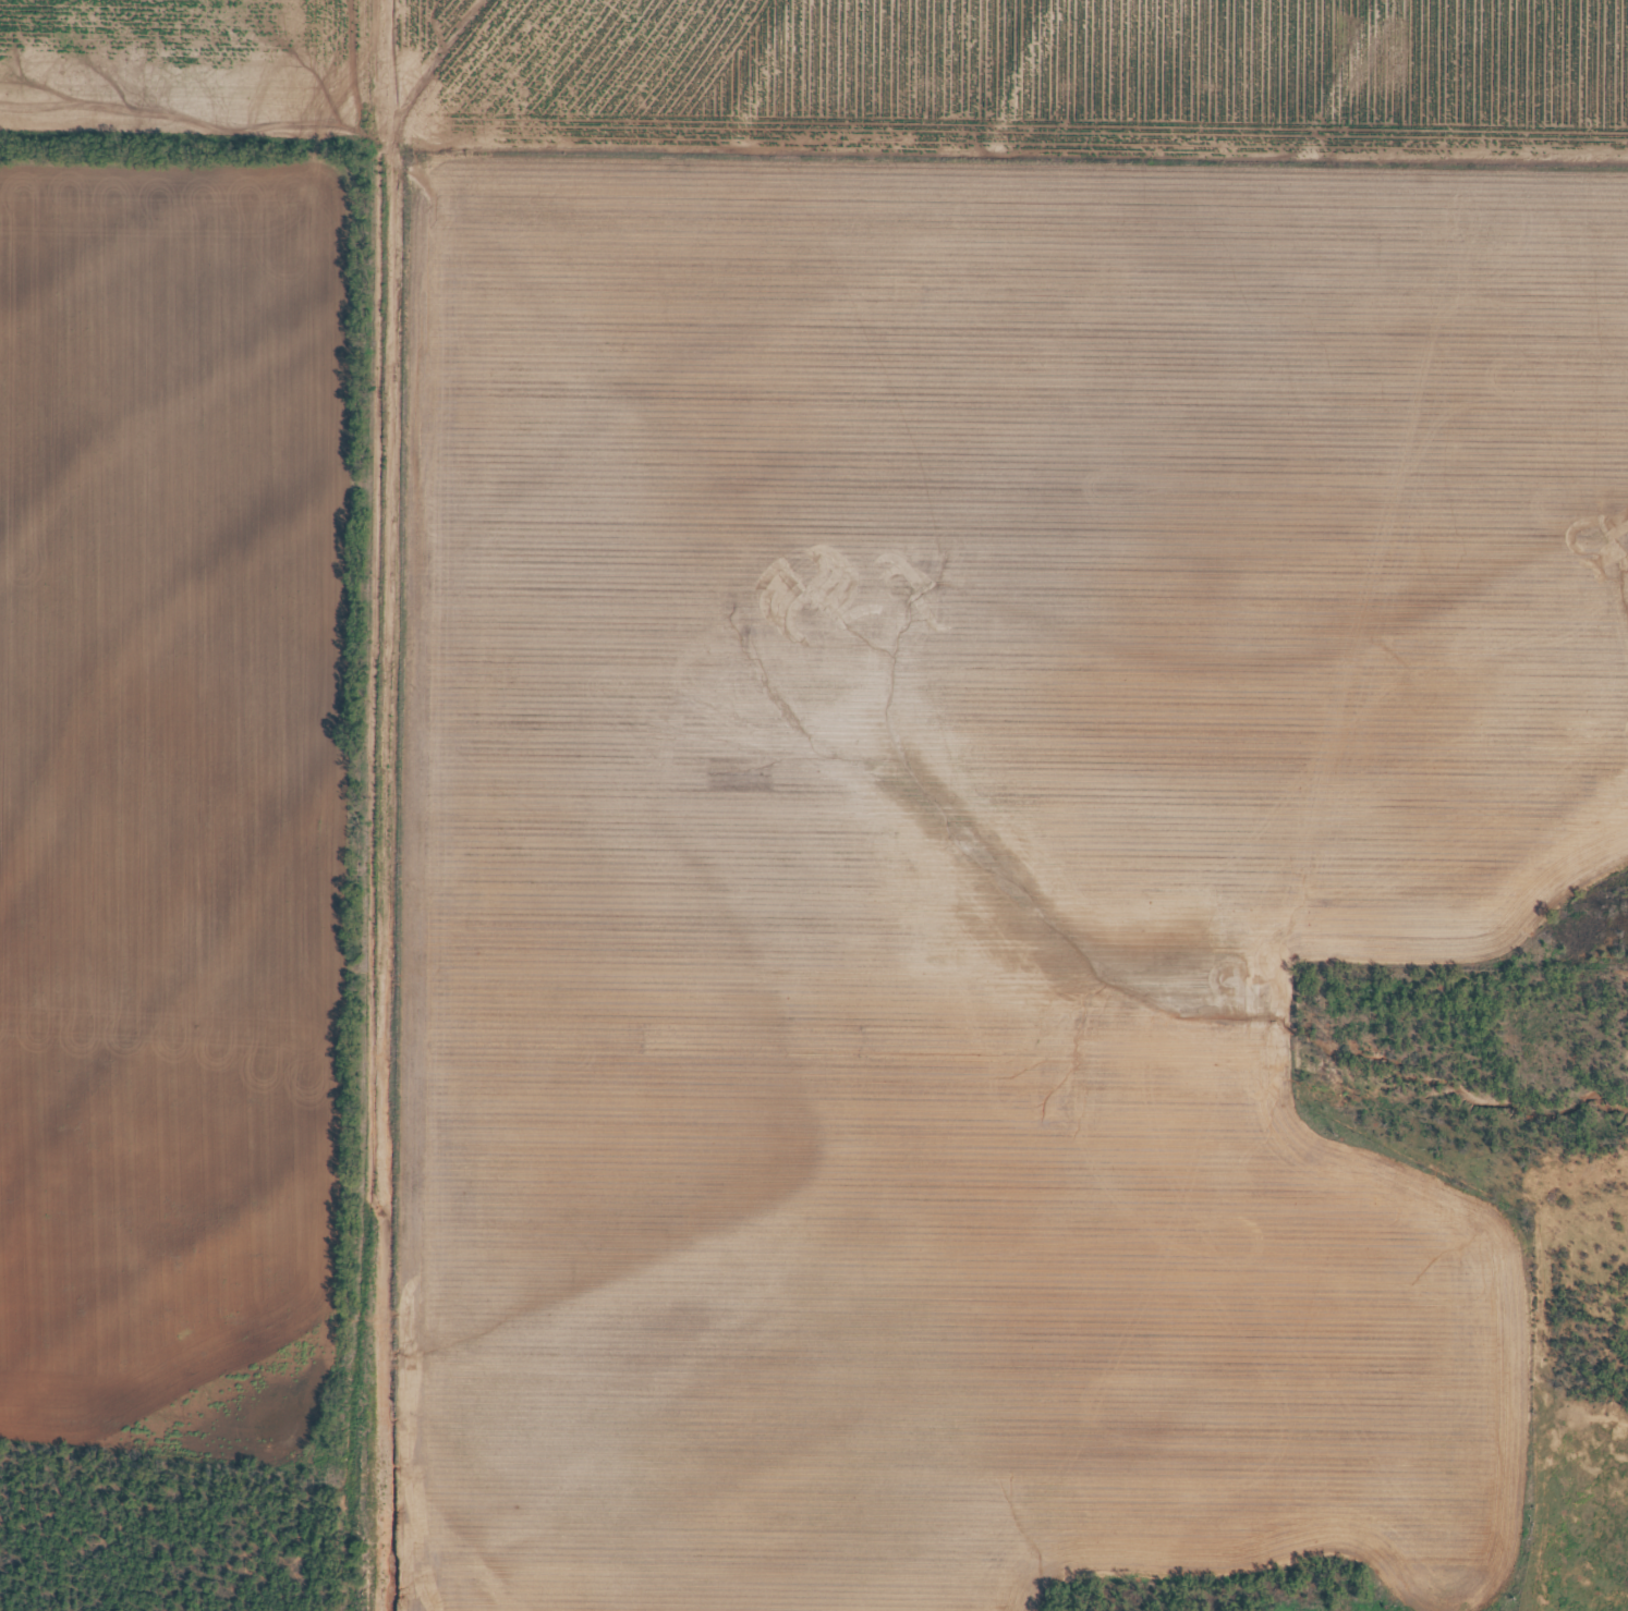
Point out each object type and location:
road: (353, 804)

